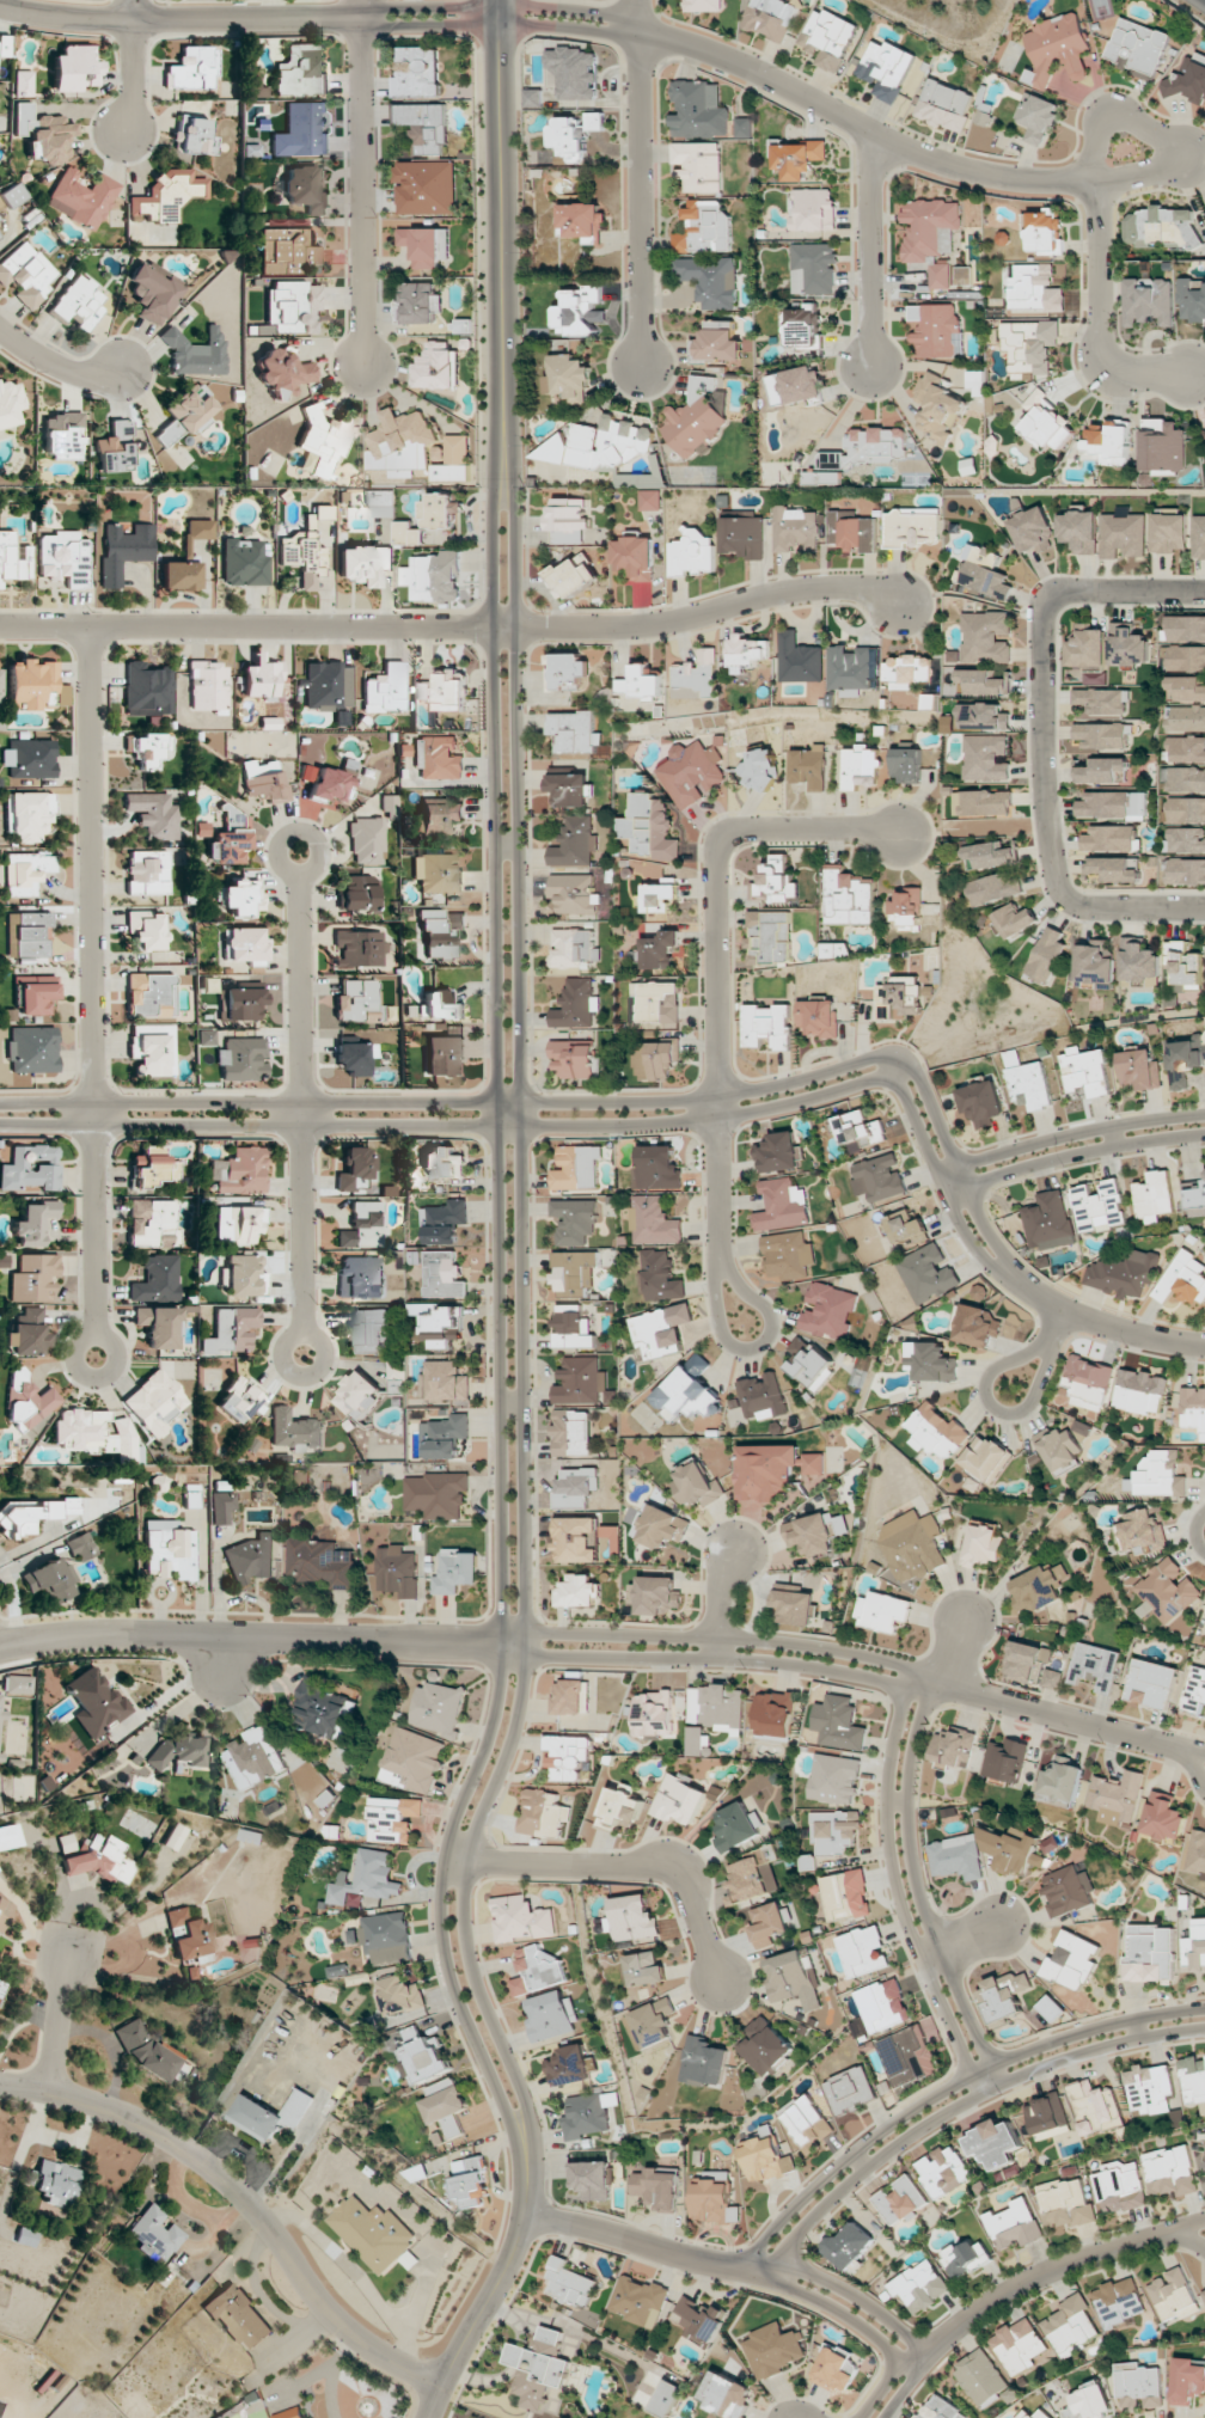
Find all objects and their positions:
road: (500, 4)
building: (703, 5)
building: (771, 17)
road: (179, 18)
road: (498, 24)
building: (827, 37)
building: (5, 45)
building: (1138, 47)
building: (1057, 49)
road: (133, 65)
building: (74, 68)
building: (191, 68)
building: (886, 68)
building: (300, 71)
building: (417, 72)
building: (573, 72)
building: (1189, 79)
building: (22, 84)
building: (534, 97)
building: (944, 105)
building: (698, 110)
building: (1038, 116)
building: (423, 127)
building: (742, 127)
building: (302, 130)
building: (42, 133)
building: (575, 135)
building: (195, 136)
building: (250, 149)
building: (799, 159)
building: (698, 166)
road: (983, 173)
road: (641, 180)
road: (363, 184)
building: (426, 186)
building: (306, 189)
building: (13, 195)
building: (165, 196)
building: (82, 197)
building: (813, 209)
building: (581, 221)
building: (704, 227)
building: (1161, 227)
road: (502, 228)
building: (931, 234)
building: (426, 245)
building: (287, 247)
road: (870, 251)
building: (813, 268)
building: (26, 273)
building: (962, 275)
building: (710, 280)
building: (1035, 288)
building: (152, 292)
building: (1149, 300)
building: (1192, 301)
building: (78, 302)
building: (420, 302)
building: (292, 306)
building: (577, 311)
road: (1097, 313)
building: (802, 327)
building: (934, 330)
building: (717, 343)
building: (1030, 345)
building: (195, 351)
road: (56, 361)
building: (436, 367)
building: (282, 372)
building: (570, 378)
building: (977, 382)
building: (10, 404)
building: (938, 406)
building: (185, 414)
building: (695, 418)
building: (1045, 423)
building: (1204, 430)
building: (62, 435)
building: (325, 439)
building: (1108, 442)
building: (400, 443)
building: (600, 443)
building: (1163, 445)
building: (115, 448)
building: (874, 448)
building: (457, 449)
building: (449, 472)
building: (642, 477)
building: (652, 500)
building: (381, 502)
building: (440, 510)
building: (323, 512)
building: (567, 520)
building: (911, 527)
building: (200, 528)
building: (795, 529)
building: (1032, 531)
building: (1078, 531)
building: (408, 533)
building: (852, 533)
building: (1169, 534)
building: (1123, 535)
building: (744, 537)
building: (1198, 537)
building: (123, 550)
building: (693, 553)
building: (635, 556)
building: (63, 557)
building: (301, 557)
building: (13, 558)
building: (243, 563)
building: (363, 563)
building: (985, 573)
building: (179, 575)
building: (434, 576)
building: (573, 576)
road: (453, 628)
building: (1186, 628)
building: (986, 637)
building: (1127, 644)
building: (1088, 647)
building: (1187, 657)
building: (799, 659)
building: (851, 669)
building: (565, 671)
building: (909, 672)
building: (696, 677)
building: (261, 679)
building: (29, 682)
building: (642, 682)
building: (981, 682)
building: (328, 685)
building: (208, 686)
building: (1186, 688)
building: (146, 690)
building: (385, 690)
building: (424, 690)
building: (451, 691)
building: (1102, 700)
building: (981, 716)
building: (1186, 718)
building: (574, 731)
building: (1101, 735)
road: (1040, 741)
building: (1186, 748)
building: (149, 749)
building: (29, 758)
building: (436, 758)
building: (986, 758)
building: (906, 764)
building: (809, 767)
building: (860, 767)
building: (760, 770)
building: (1103, 771)
building: (690, 772)
building: (1185, 779)
building: (264, 782)
building: (324, 783)
building: (569, 789)
building: (983, 802)
building: (1113, 804)
building: (1187, 809)
building: (27, 814)
building: (153, 814)
building: (440, 820)
building: (648, 827)
building: (1111, 838)
building: (1185, 840)
road: (507, 844)
building: (574, 844)
building: (227, 846)
building: (991, 855)
building: (1114, 869)
building: (1186, 871)
building: (25, 873)
building: (148, 873)
building: (436, 874)
building: (773, 881)
building: (995, 888)
building: (356, 893)
building: (573, 893)
building: (660, 894)
building: (240, 898)
building: (849, 898)
building: (1016, 919)
building: (147, 930)
building: (441, 931)
building: (30, 933)
building: (771, 936)
building: (244, 945)
building: (360, 948)
building: (573, 948)
building: (836, 949)
building: (659, 950)
building: (1048, 955)
road: (716, 957)
building: (1139, 961)
building: (1094, 965)
road: (93, 992)
building: (36, 994)
building: (151, 994)
building: (898, 997)
building: (356, 1000)
building: (656, 1002)
building: (240, 1003)
building: (575, 1004)
building: (439, 1005)
building: (819, 1017)
building: (767, 1026)
building: (206, 1037)
building: (32, 1049)
building: (153, 1049)
building: (444, 1055)
building: (353, 1058)
building: (657, 1058)
building: (241, 1059)
building: (574, 1059)
building: (1183, 1059)
road: (889, 1067)
building: (1139, 1069)
building: (1085, 1071)
building: (1027, 1082)
building: (981, 1103)
road: (304, 1104)
road: (447, 1104)
road: (934, 1118)
road: (446, 1126)
building: (858, 1128)
road: (918, 1134)
road: (1068, 1135)
building: (778, 1152)
road: (1072, 1156)
building: (442, 1162)
building: (31, 1168)
building: (151, 1168)
building: (576, 1168)
building: (657, 1169)
building: (355, 1170)
building: (239, 1171)
building: (880, 1177)
building: (1154, 1196)
building: (1195, 1200)
building: (782, 1205)
building: (1099, 1206)
building: (574, 1220)
building: (654, 1220)
building: (1047, 1220)
building: (444, 1222)
building: (33, 1223)
building: (153, 1224)
building: (239, 1225)
building: (363, 1226)
building: (905, 1226)
road: (986, 1230)
road: (967, 1241)
building: (788, 1255)
building: (574, 1271)
building: (928, 1273)
building: (1123, 1274)
building: (444, 1275)
building: (33, 1277)
building: (244, 1277)
building: (660, 1277)
building: (360, 1278)
building: (157, 1279)
building: (1183, 1279)
road: (522, 1308)
road: (500, 1310)
building: (828, 1310)
building: (440, 1323)
road: (1053, 1324)
building: (159, 1326)
building: (977, 1326)
building: (571, 1327)
road: (1099, 1327)
building: (232, 1330)
building: (372, 1330)
building: (661, 1330)
building: (26, 1333)
road: (751, 1349)
building: (932, 1361)
building: (698, 1363)
building: (809, 1364)
building: (580, 1381)
building: (444, 1382)
building: (1088, 1382)
building: (1139, 1391)
building: (359, 1395)
building: (685, 1395)
building: (763, 1396)
building: (239, 1398)
building: (26, 1400)
building: (154, 1402)
road: (513, 1403)
road: (993, 1408)
building: (1193, 1408)
building: (295, 1431)
building: (935, 1431)
building: (571, 1432)
building: (97, 1433)
building: (444, 1437)
building: (1059, 1449)
building: (985, 1457)
building: (772, 1469)
building: (1161, 1475)
building: (696, 1485)
building: (575, 1486)
building: (436, 1494)
building: (191, 1500)
building: (222, 1506)
building: (31, 1516)
building: (662, 1526)
building: (1142, 1532)
road: (1195, 1534)
building: (811, 1535)
building: (576, 1539)
building: (983, 1545)
building: (81, 1547)
building: (170, 1548)
building: (911, 1548)
building: (251, 1559)
building: (322, 1562)
building: (397, 1571)
building: (455, 1571)
building: (50, 1580)
building: (1038, 1587)
building: (1168, 1590)
building: (577, 1591)
building: (656, 1594)
road: (716, 1602)
building: (794, 1606)
building: (883, 1611)
road: (250, 1634)
road: (717, 1636)
road: (946, 1652)
road: (714, 1659)
building: (1026, 1660)
building: (1095, 1665)
building: (1052, 1678)
building: (1150, 1683)
building: (18, 1684)
building: (1194, 1691)
building: (569, 1697)
building: (94, 1702)
building: (716, 1707)
building: (439, 1708)
building: (323, 1709)
building: (2, 1710)
building: (775, 1713)
building: (654, 1714)
road: (1069, 1719)
building: (840, 1722)
building: (696, 1740)
building: (953, 1746)
building: (178, 1751)
building: (1, 1756)
building: (255, 1757)
building: (568, 1757)
building: (1005, 1759)
building: (414, 1761)
building: (836, 1779)
building: (1062, 1782)
building: (1117, 1796)
building: (679, 1800)
building: (619, 1807)
building: (542, 1813)
building: (1164, 1816)
building: (393, 1818)
building: (735, 1826)
building: (834, 1835)
building: (10, 1836)
building: (251, 1836)
building: (173, 1837)
building: (1010, 1850)
building: (1197, 1854)
building: (956, 1857)
road: (458, 1859)
road: (631, 1866)
building: (365, 1879)
building: (1066, 1890)
road: (897, 1891)
road: (918, 1892)
building: (845, 1894)
building: (5, 1911)
building: (520, 1918)
building: (631, 1918)
building: (769, 1923)
building: (189, 1934)
building: (386, 1938)
road: (960, 1941)
building: (1195, 1947)
building: (863, 1951)
building: (1150, 1953)
building: (1071, 1960)
building: (646, 1969)
building: (537, 1970)
building: (791, 1979)
building: (1, 1988)
building: (399, 1995)
building: (1005, 1995)
building: (883, 2004)
building: (1050, 2008)
building: (551, 2015)
road: (56, 2018)
building: (652, 2024)
building: (765, 2046)
building: (152, 2055)
building: (907, 2056)
building: (422, 2057)
building: (703, 2062)
building: (569, 2065)
building: (1193, 2079)
building: (1149, 2088)
building: (849, 2089)
road: (948, 2092)
building: (445, 2100)
building: (1095, 2107)
road: (959, 2108)
building: (273, 2111)
building: (587, 2114)
building: (1047, 2117)
building: (806, 2122)
building: (993, 2143)
building: (765, 2156)
building: (1204, 2165)
building: (944, 2171)
building: (1169, 2171)
building: (591, 2179)
building: (469, 2181)
building: (54, 2183)
building: (1119, 2186)
building: (659, 2187)
road: (244, 2196)
building: (900, 2199)
building: (1065, 2203)
building: (1015, 2224)
building: (378, 2232)
building: (154, 2233)
road: (635, 2241)
building: (849, 2245)
building: (965, 2258)
road: (1057, 2267)
road: (488, 2279)
building: (569, 2283)
building: (919, 2285)
building: (1204, 2291)
road: (848, 2292)
building: (1173, 2295)
building: (637, 2300)
building: (1119, 2301)
road: (838, 2313)
building: (237, 2315)
building: (654, 2319)
building: (701, 2320)
building: (1071, 2325)
building: (549, 2339)
building: (1019, 2345)
building: (772, 2350)
building: (834, 2369)
building: (537, 2376)
road: (889, 2377)
building: (981, 2379)
building: (1187, 2381)
road: (906, 2386)
building: (1138, 2386)
building: (727, 2395)
building: (665, 2398)
building: (1089, 2402)
building: (941, 2408)
building: (289, 2413)
building: (1034, 2414)

